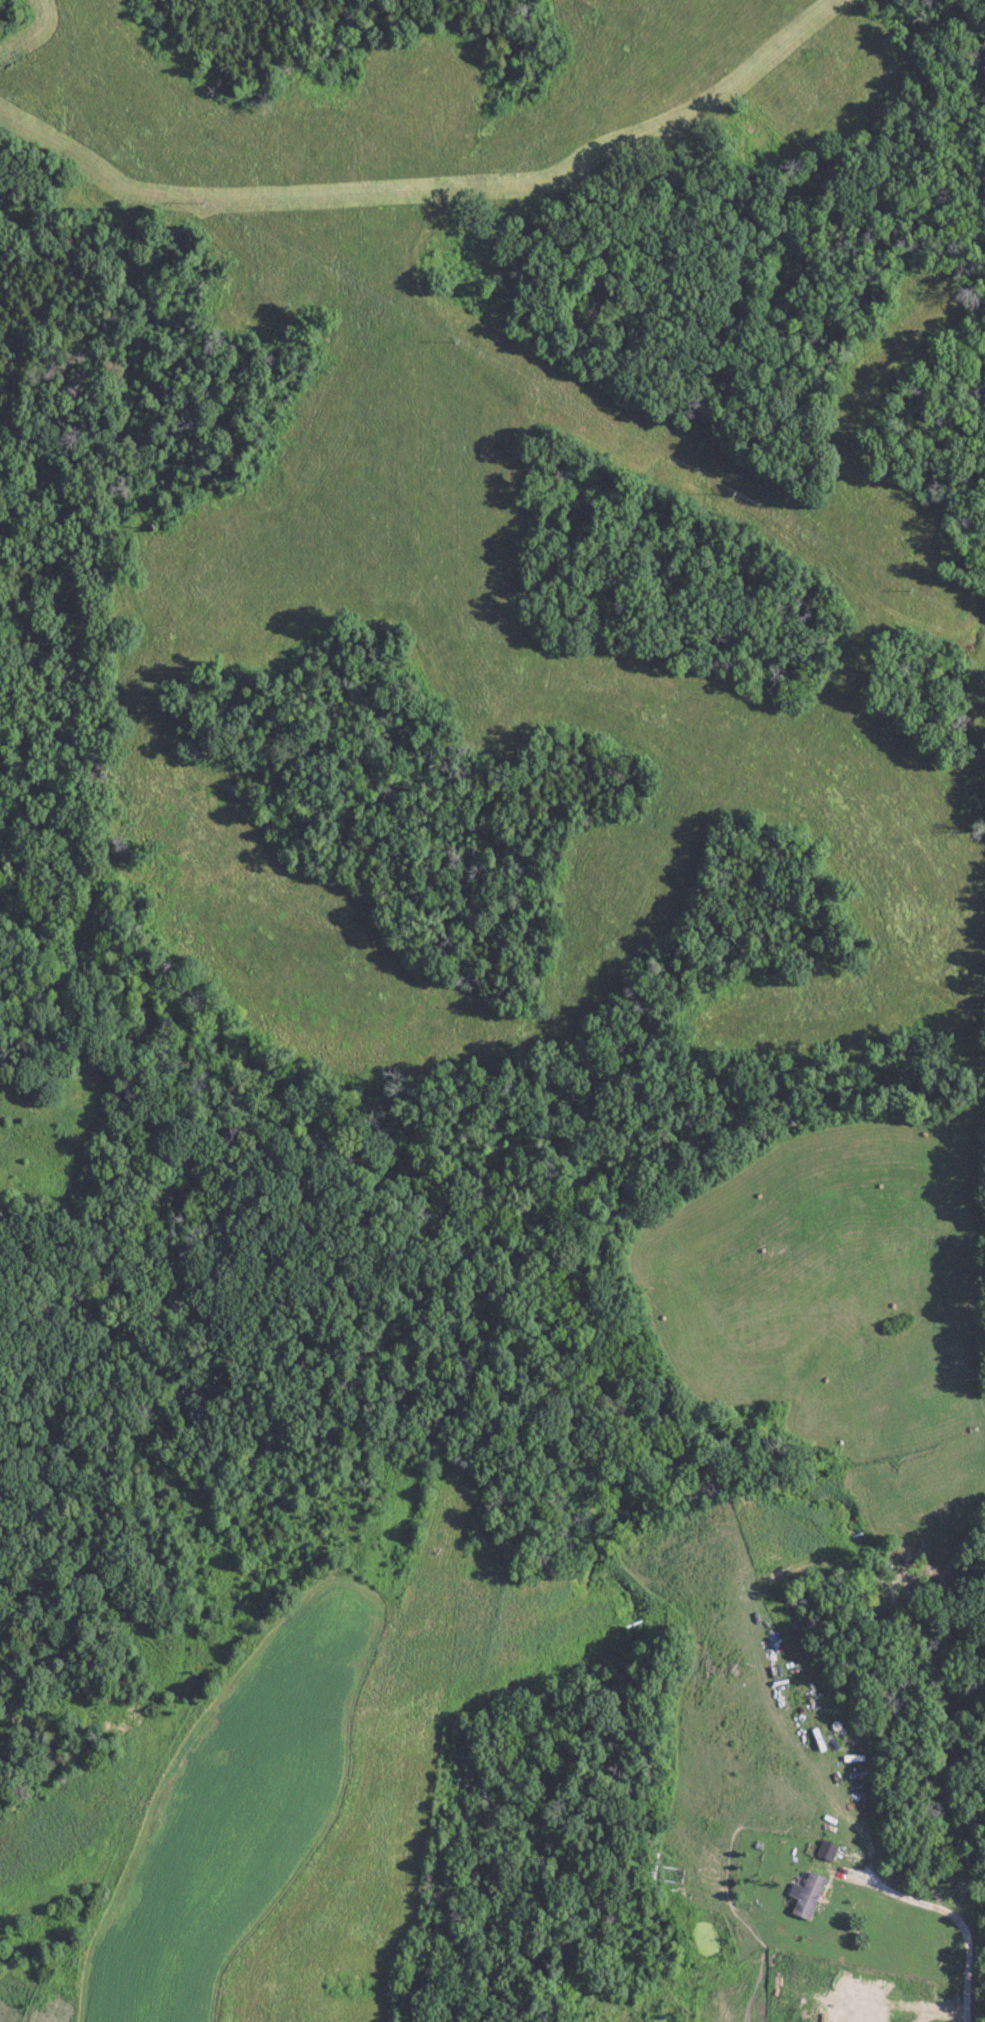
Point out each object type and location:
building: (829, 1848)
building: (810, 1893)

